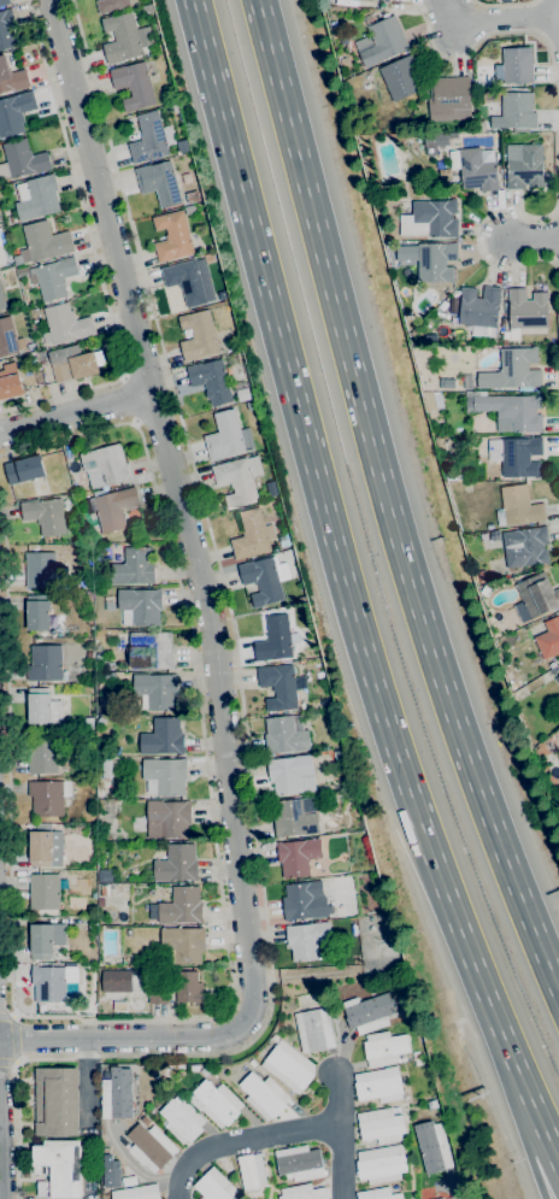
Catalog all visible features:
building: (386, 0)
building: (4, 2)
road: (502, 4)
building: (111, 5)
road: (558, 12)
road: (494, 19)
building: (6, 29)
building: (124, 37)
building: (381, 41)
building: (345, 63)
building: (514, 65)
building: (11, 77)
building: (400, 77)
building: (134, 86)
building: (426, 93)
building: (477, 95)
building: (449, 99)
building: (516, 111)
building: (14, 112)
building: (151, 139)
building: (436, 141)
building: (182, 146)
building: (22, 159)
building: (475, 167)
building: (419, 169)
building: (525, 169)
road: (555, 171)
building: (443, 174)
building: (158, 182)
building: (36, 196)
building: (192, 196)
building: (189, 210)
building: (10, 219)
building: (430, 219)
building: (172, 236)
road: (534, 237)
building: (42, 243)
road: (92, 248)
building: (1, 257)
building: (430, 259)
building: (22, 271)
building: (53, 278)
building: (186, 281)
building: (1, 300)
building: (479, 308)
building: (526, 308)
building: (64, 324)
building: (513, 334)
building: (198, 335)
building: (8, 339)
building: (504, 342)
building: (30, 347)
building: (41, 355)
building: (72, 363)
building: (35, 365)
building: (229, 370)
building: (513, 371)
building: (469, 380)
building: (211, 381)
building: (10, 382)
building: (241, 392)
road: (126, 400)
building: (430, 401)
building: (508, 411)
road: (75, 412)
building: (224, 436)
building: (516, 455)
building: (106, 465)
building: (24, 469)
building: (461, 475)
building: (237, 480)
road: (390, 500)
building: (519, 505)
building: (113, 507)
road: (182, 509)
building: (45, 516)
building: (251, 535)
building: (492, 535)
building: (283, 540)
building: (525, 547)
road: (339, 560)
building: (134, 568)
building: (45, 570)
building: (481, 575)
building: (264, 578)
building: (536, 596)
road: (228, 603)
building: (140, 607)
building: (37, 612)
building: (273, 636)
building: (548, 639)
building: (151, 651)
building: (88, 656)
building: (100, 658)
building: (45, 663)
building: (553, 668)
building: (557, 678)
building: (278, 687)
building: (155, 690)
building: (325, 701)
building: (41, 709)
building: (101, 721)
building: (87, 723)
building: (53, 728)
building: (283, 735)
building: (163, 737)
building: (41, 756)
building: (102, 768)
building: (288, 772)
building: (165, 776)
building: (48, 797)
building: (167, 818)
building: (294, 819)
building: (100, 825)
building: (89, 833)
building: (100, 835)
building: (45, 848)
building: (298, 856)
building: (177, 863)
building: (43, 892)
building: (305, 901)
building: (178, 906)
building: (92, 923)
building: (306, 939)
building: (45, 940)
building: (182, 945)
building: (139, 962)
building: (71, 975)
building: (311, 976)
building: (48, 985)
building: (181, 989)
building: (318, 994)
road: (233, 999)
building: (322, 1001)
building: (369, 1012)
building: (406, 1012)
road: (7, 1013)
building: (314, 1030)
road: (122, 1036)
road: (14, 1038)
building: (383, 1048)
building: (416, 1056)
road: (8, 1062)
building: (288, 1065)
building: (194, 1068)
building: (205, 1071)
building: (153, 1074)
building: (378, 1085)
building: (117, 1094)
building: (263, 1095)
road: (13, 1100)
building: (57, 1101)
building: (216, 1103)
building: (395, 1109)
building: (145, 1121)
building: (182, 1121)
building: (379, 1125)
road: (340, 1135)
road: (545, 1135)
road: (242, 1140)
building: (151, 1147)
building: (433, 1147)
road: (529, 1154)
building: (299, 1163)
building: (379, 1164)
road: (135, 1168)
building: (59, 1169)
building: (110, 1171)
building: (251, 1171)
building: (214, 1186)
building: (301, 1192)
building: (137, 1193)
building: (378, 1194)
building: (237, 1198)
building: (440, 1198)

